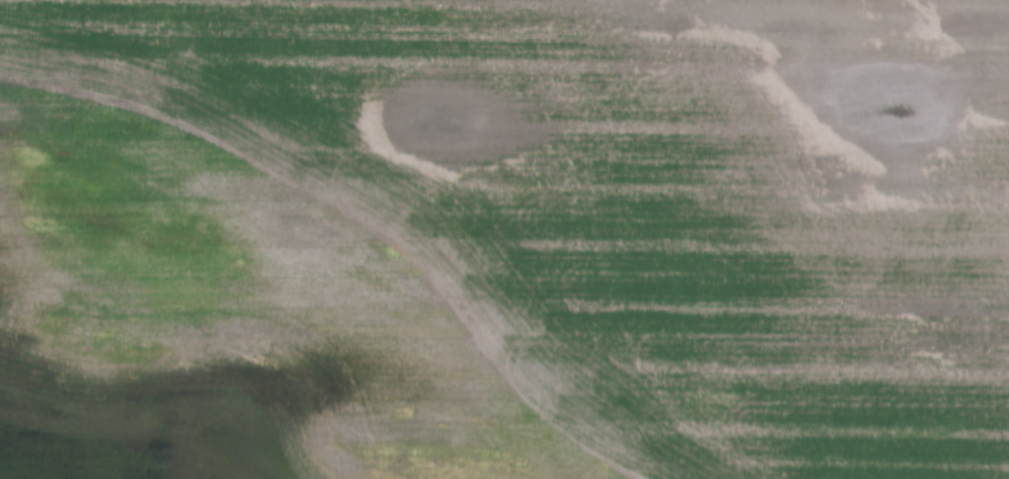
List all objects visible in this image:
crop: (504, 239)

